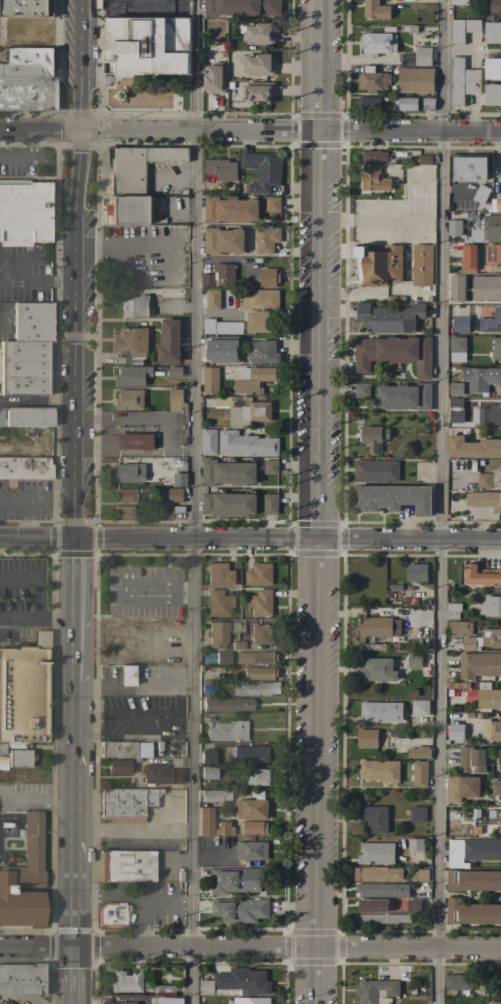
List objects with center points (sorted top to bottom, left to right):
building: (460, 2)
building: (495, 6)
building: (242, 7)
building: (27, 8)
building: (376, 9)
building: (463, 29)
building: (493, 32)
building: (258, 34)
building: (379, 42)
building: (147, 45)
building: (29, 54)
building: (423, 56)
building: (258, 64)
building: (26, 68)
building: (492, 68)
building: (214, 77)
building: (372, 80)
building: (415, 80)
building: (462, 81)
building: (26, 91)
building: (258, 92)
park: (147, 94)
building: (492, 94)
building: (368, 103)
building: (406, 103)
building: (428, 104)
road: (39, 130)
road: (290, 131)
building: (374, 156)
building: (425, 159)
building: (411, 163)
building: (137, 166)
building: (468, 166)
building: (220, 169)
building: (263, 170)
building: (499, 174)
building: (374, 179)
building: (481, 194)
building: (496, 201)
building: (273, 204)
building: (128, 209)
building: (230, 210)
building: (25, 212)
building: (454, 227)
building: (491, 227)
building: (474, 231)
building: (266, 239)
building: (223, 240)
road: (138, 249)
building: (493, 256)
building: (468, 258)
building: (379, 265)
building: (422, 265)
road: (74, 268)
parking lot: (26, 272)
building: (219, 276)
building: (268, 277)
building: (498, 285)
building: (213, 299)
building: (135, 305)
building: (260, 309)
building: (389, 318)
building: (34, 321)
building: (491, 322)
building: (459, 324)
building: (221, 327)
building: (131, 342)
building: (169, 342)
building: (457, 348)
building: (223, 349)
building: (496, 349)
building: (262, 352)
building: (394, 353)
building: (23, 367)
building: (175, 371)
building: (131, 375)
building: (477, 378)
building: (499, 378)
building: (253, 379)
building: (210, 380)
building: (456, 389)
building: (361, 390)
building: (404, 396)
building: (128, 400)
building: (176, 400)
road: (37, 401)
building: (455, 403)
building: (244, 410)
building: (487, 415)
building: (26, 416)
building: (372, 437)
building: (135, 441)
building: (209, 442)
building: (246, 443)
building: (473, 447)
building: (270, 466)
building: (25, 467)
building: (375, 471)
building: (228, 472)
building: (127, 473)
building: (499, 476)
building: (179, 480)
building: (484, 480)
building: (124, 494)
building: (175, 495)
building: (393, 498)
building: (484, 500)
road: (191, 501)
road: (314, 501)
road: (438, 501)
road: (28, 502)
building: (228, 503)
building: (270, 504)
building: (123, 511)
road: (37, 536)
traffic signals: (74, 537)
road: (287, 538)
building: (416, 572)
building: (220, 574)
building: (259, 574)
road: (39, 575)
building: (481, 575)
parking lot: (143, 590)
road: (185, 590)
building: (394, 591)
building: (218, 602)
building: (260, 602)
building: (492, 606)
road: (74, 609)
building: (453, 610)
road: (36, 616)
building: (378, 626)
building: (217, 633)
building: (260, 635)
building: (491, 636)
building: (40, 639)
building: (237, 645)
building: (222, 657)
building: (255, 657)
building: (413, 660)
building: (479, 665)
building: (377, 669)
building: (259, 672)
building: (125, 675)
road: (125, 687)
building: (257, 688)
building: (23, 694)
building: (484, 696)
building: (227, 703)
building: (420, 707)
building: (381, 711)
building: (493, 729)
building: (227, 730)
building: (455, 732)
building: (372, 737)
building: (124, 748)
building: (418, 752)
building: (251, 753)
building: (208, 756)
building: (20, 757)
building: (498, 759)
building: (470, 760)
building: (121, 766)
building: (209, 771)
building: (380, 771)
building: (161, 774)
building: (419, 774)
building: (256, 777)
building: (495, 787)
building: (461, 788)
building: (214, 794)
building: (126, 804)
building: (252, 806)
road: (75, 814)
building: (416, 814)
building: (494, 818)
building: (374, 819)
building: (206, 820)
building: (252, 827)
building: (223, 828)
building: (497, 832)
building: (415, 845)
building: (251, 849)
building: (472, 851)
building: (376, 853)
building: (12, 856)
building: (127, 865)
building: (376, 874)
building: (421, 875)
building: (24, 878)
building: (234, 880)
building: (473, 880)
building: (381, 890)
building: (372, 905)
building: (413, 906)
building: (239, 909)
building: (471, 913)
building: (111, 915)
building: (381, 918)
road: (38, 946)
road: (288, 946)
road: (190, 961)
road: (75, 975)
building: (21, 978)
building: (126, 981)
building: (44, 983)
building: (236, 983)
building: (457, 983)
building: (375, 990)
building: (169, 1000)
building: (248, 1000)
building: (117, 1003)
building: (494, 1003)

